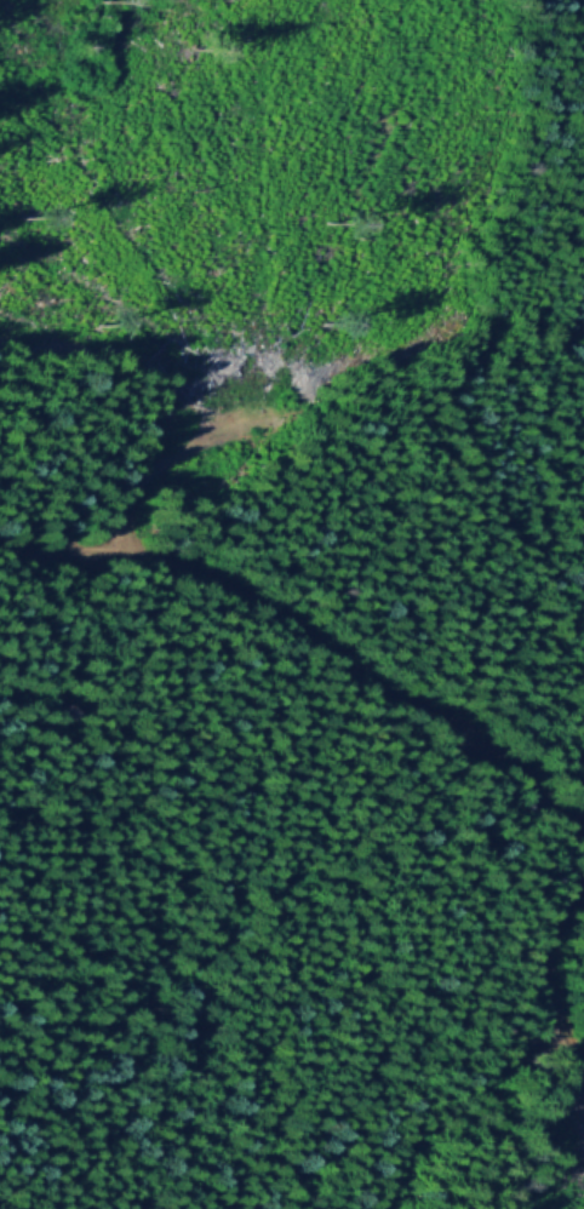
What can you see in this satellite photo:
road: (165, 463)
road: (315, 637)
road: (552, 976)

